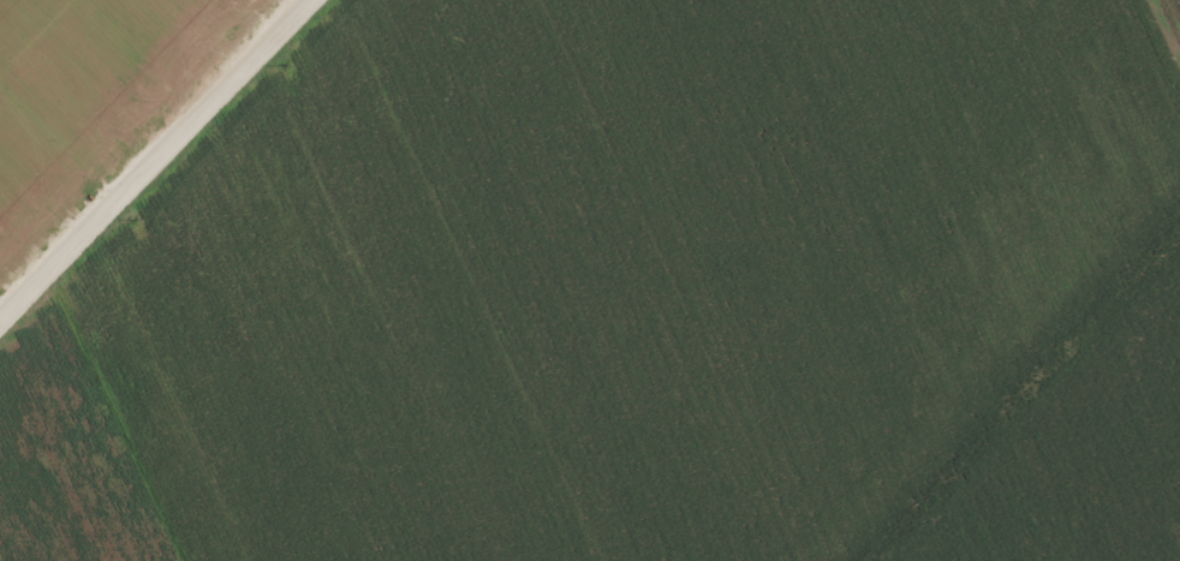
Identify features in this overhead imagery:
road: (207, 199)

